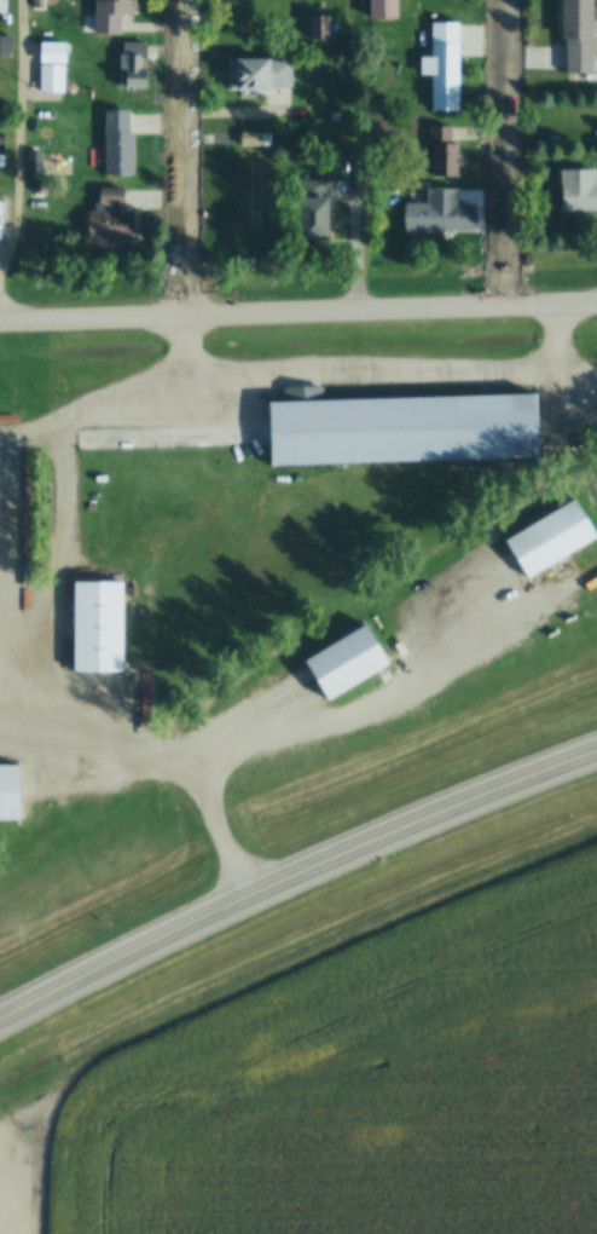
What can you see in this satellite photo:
building: (48, 0)
building: (122, 2)
building: (395, 8)
building: (326, 27)
building: (586, 34)
building: (8, 45)
building: (138, 65)
building: (453, 67)
building: (268, 73)
building: (56, 79)
building: (2, 140)
building: (122, 145)
building: (451, 151)
road: (516, 155)
road: (192, 160)
road: (19, 162)
building: (584, 190)
building: (261, 195)
building: (326, 212)
building: (451, 214)
building: (115, 219)
building: (1, 220)
road: (297, 316)
building: (402, 429)
building: (198, 438)
building: (109, 442)
building: (0, 628)
building: (10, 794)
road: (292, 881)

